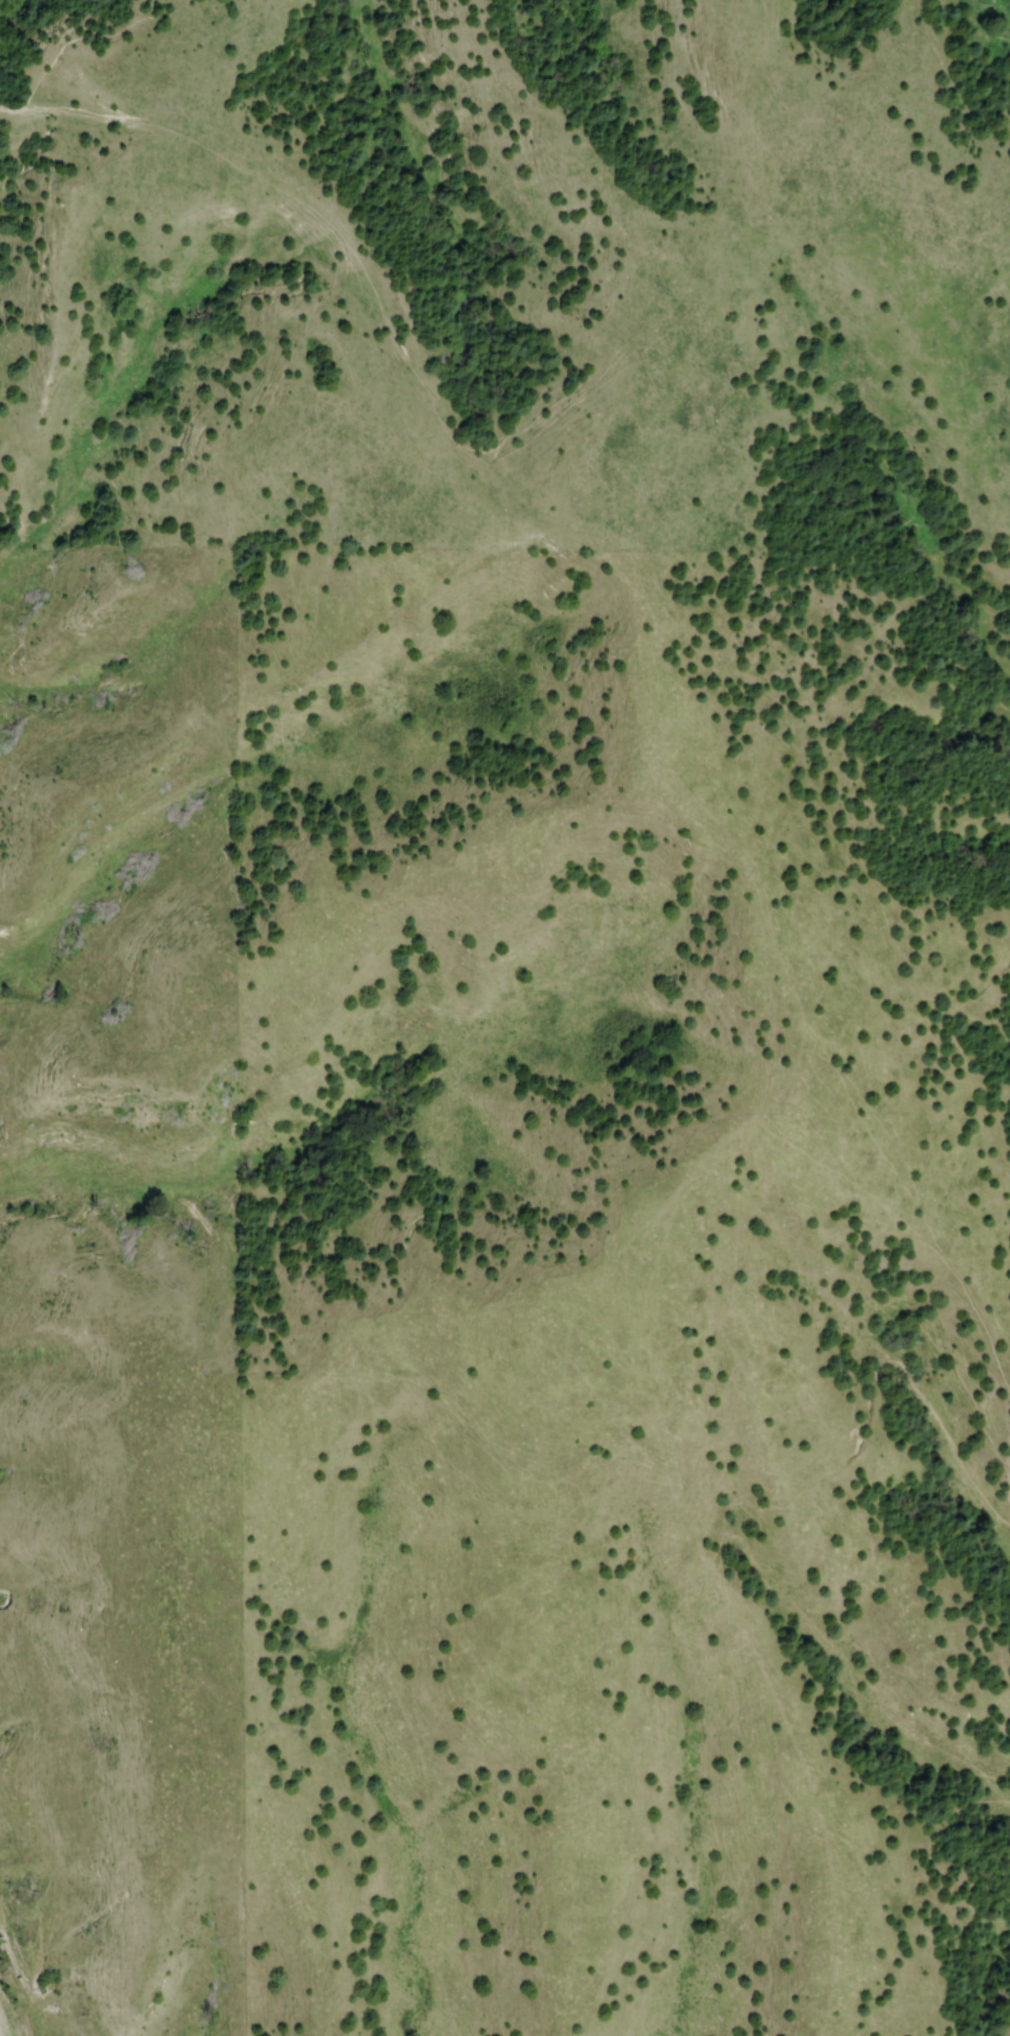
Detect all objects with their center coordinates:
road: (0, 2035)

